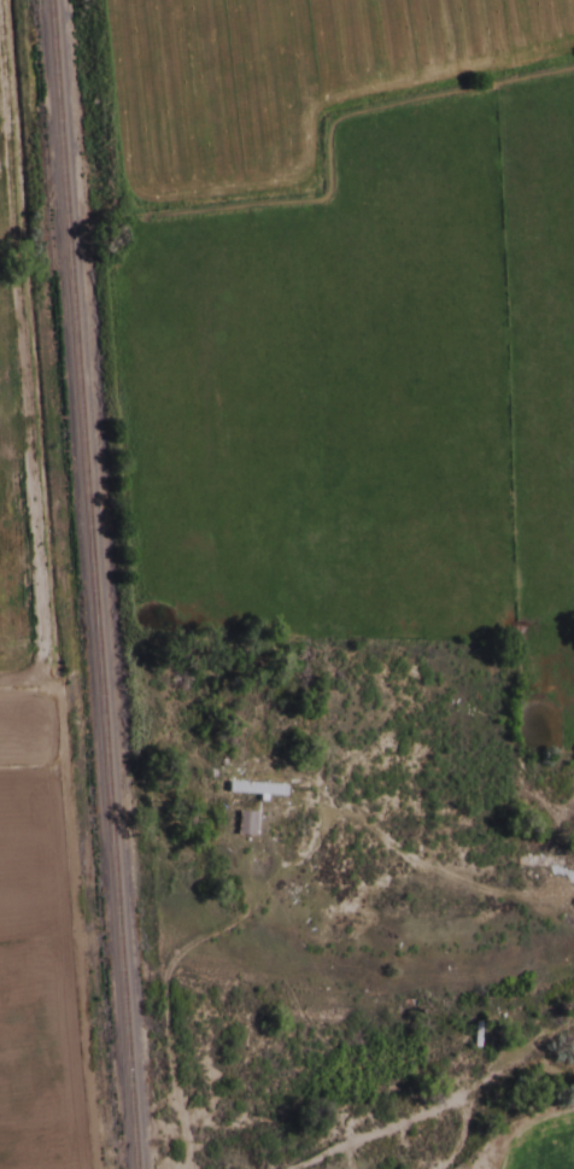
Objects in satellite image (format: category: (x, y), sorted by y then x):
road: (17, 431)
railway: (88, 584)
building: (251, 791)
building: (241, 826)
road: (277, 883)
road: (65, 905)
road: (552, 1045)
road: (428, 1111)
road: (475, 1132)

